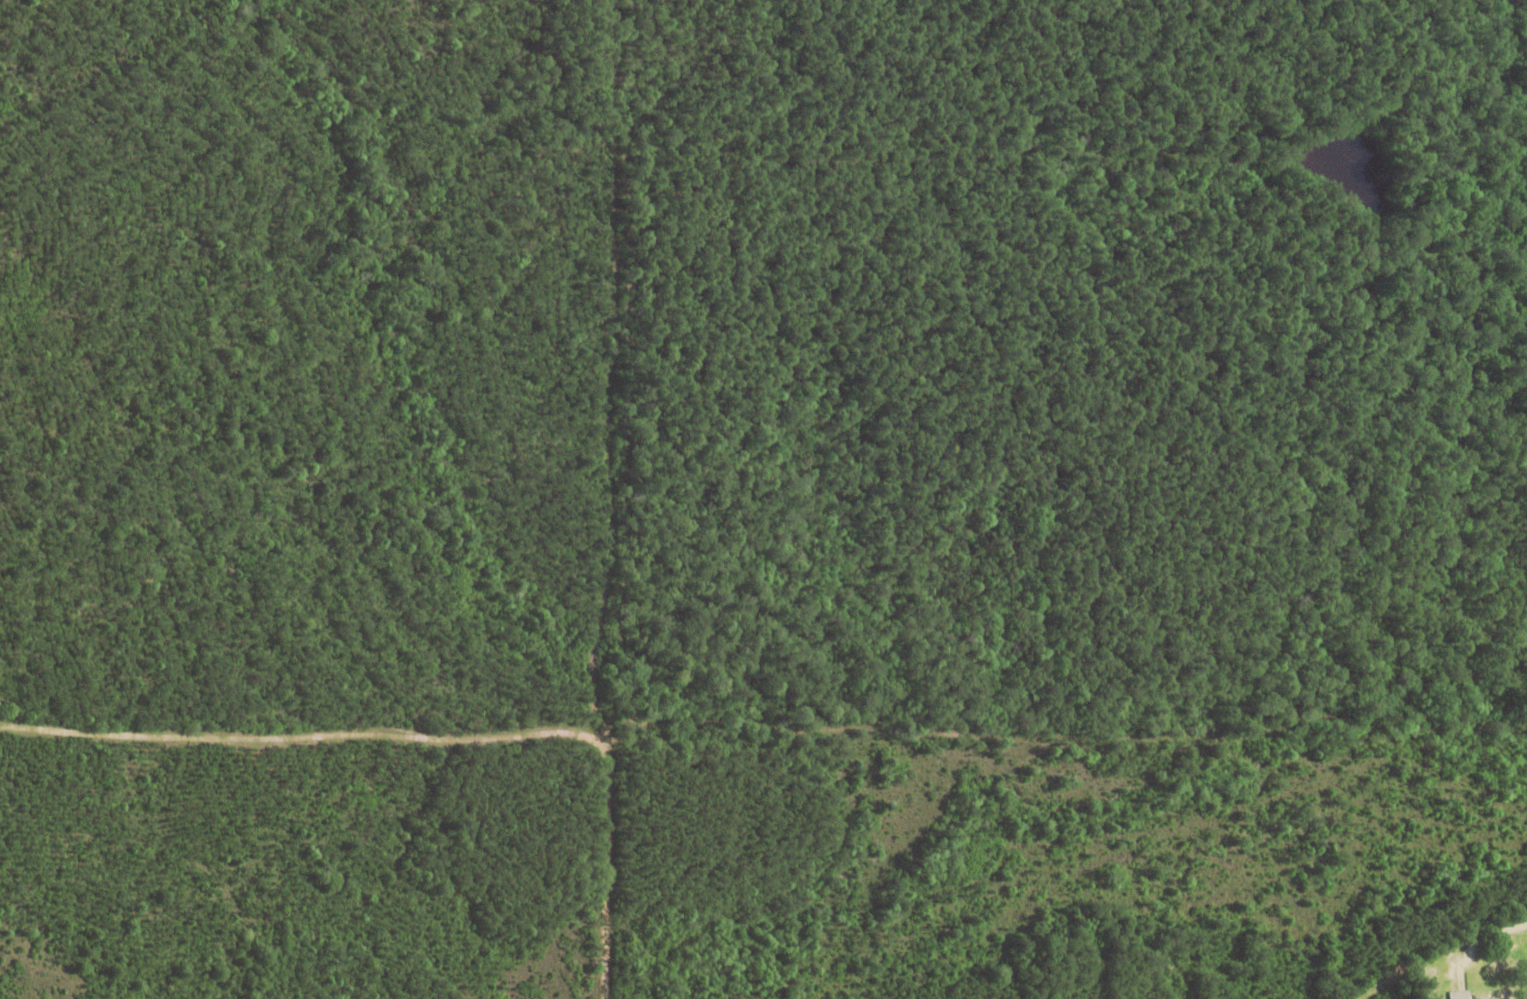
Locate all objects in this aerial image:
building: (1464, 994)

